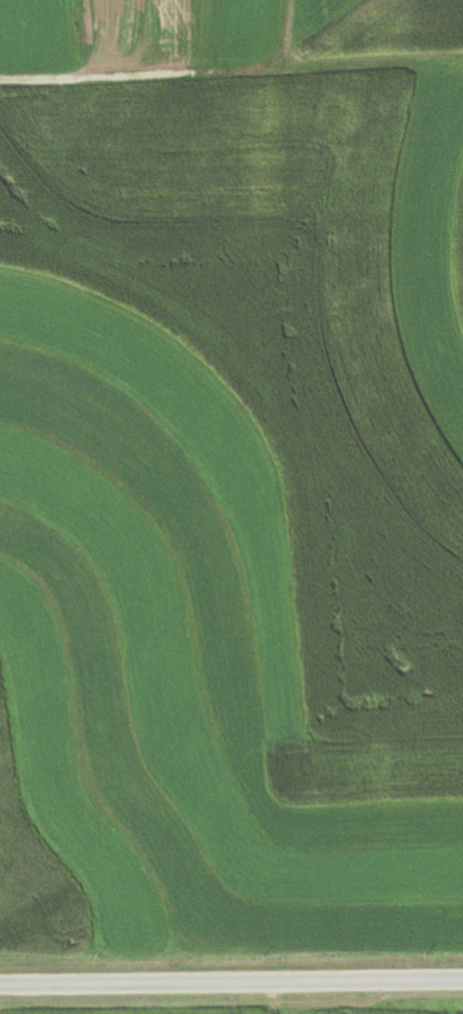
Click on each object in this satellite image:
road: (231, 982)

